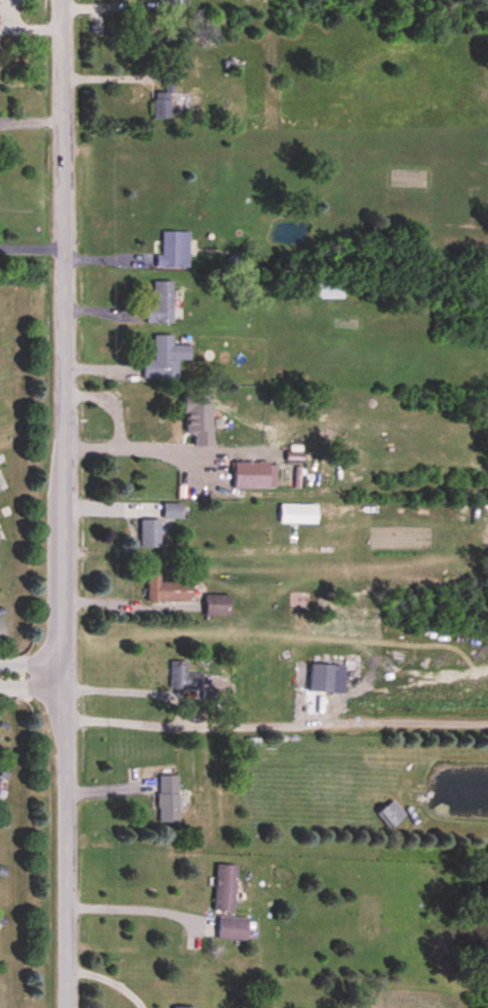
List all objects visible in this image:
building: (160, 105)
road: (31, 119)
road: (31, 243)
building: (173, 251)
building: (161, 304)
building: (165, 358)
building: (197, 418)
road: (148, 448)
building: (250, 474)
road: (63, 503)
building: (171, 510)
building: (297, 513)
building: (149, 533)
building: (167, 590)
building: (216, 605)
building: (1, 630)
road: (31, 665)
building: (182, 677)
building: (320, 677)
road: (122, 684)
road: (31, 687)
road: (188, 723)
building: (166, 798)
building: (390, 814)
building: (224, 887)
road: (131, 908)
building: (233, 928)
building: (183, 1007)

